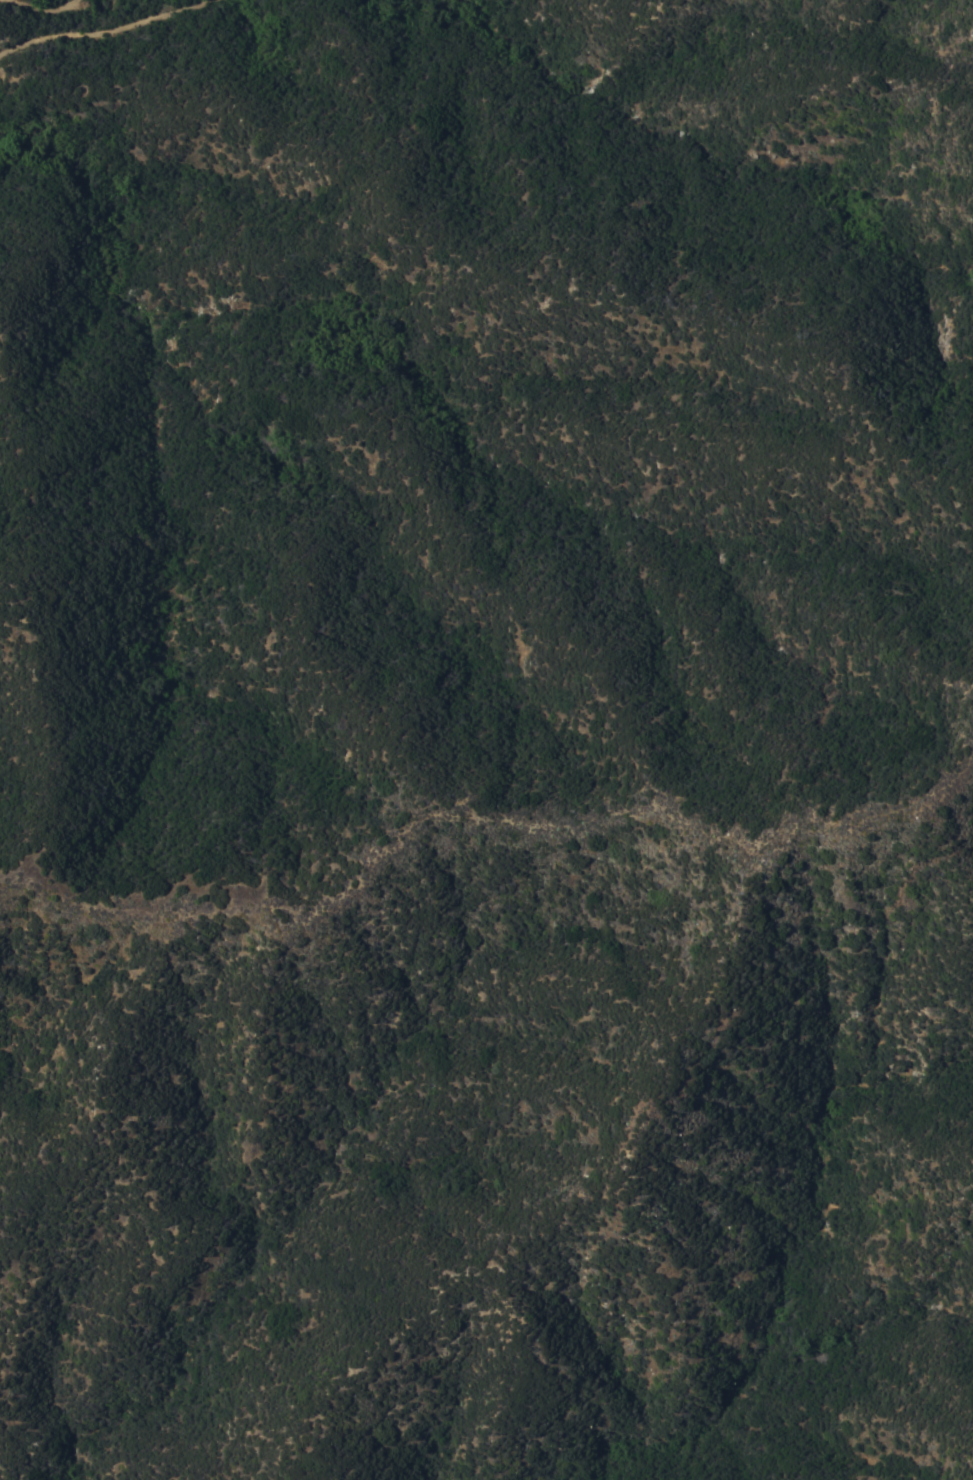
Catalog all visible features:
road: (42, 8)
road: (104, 29)

